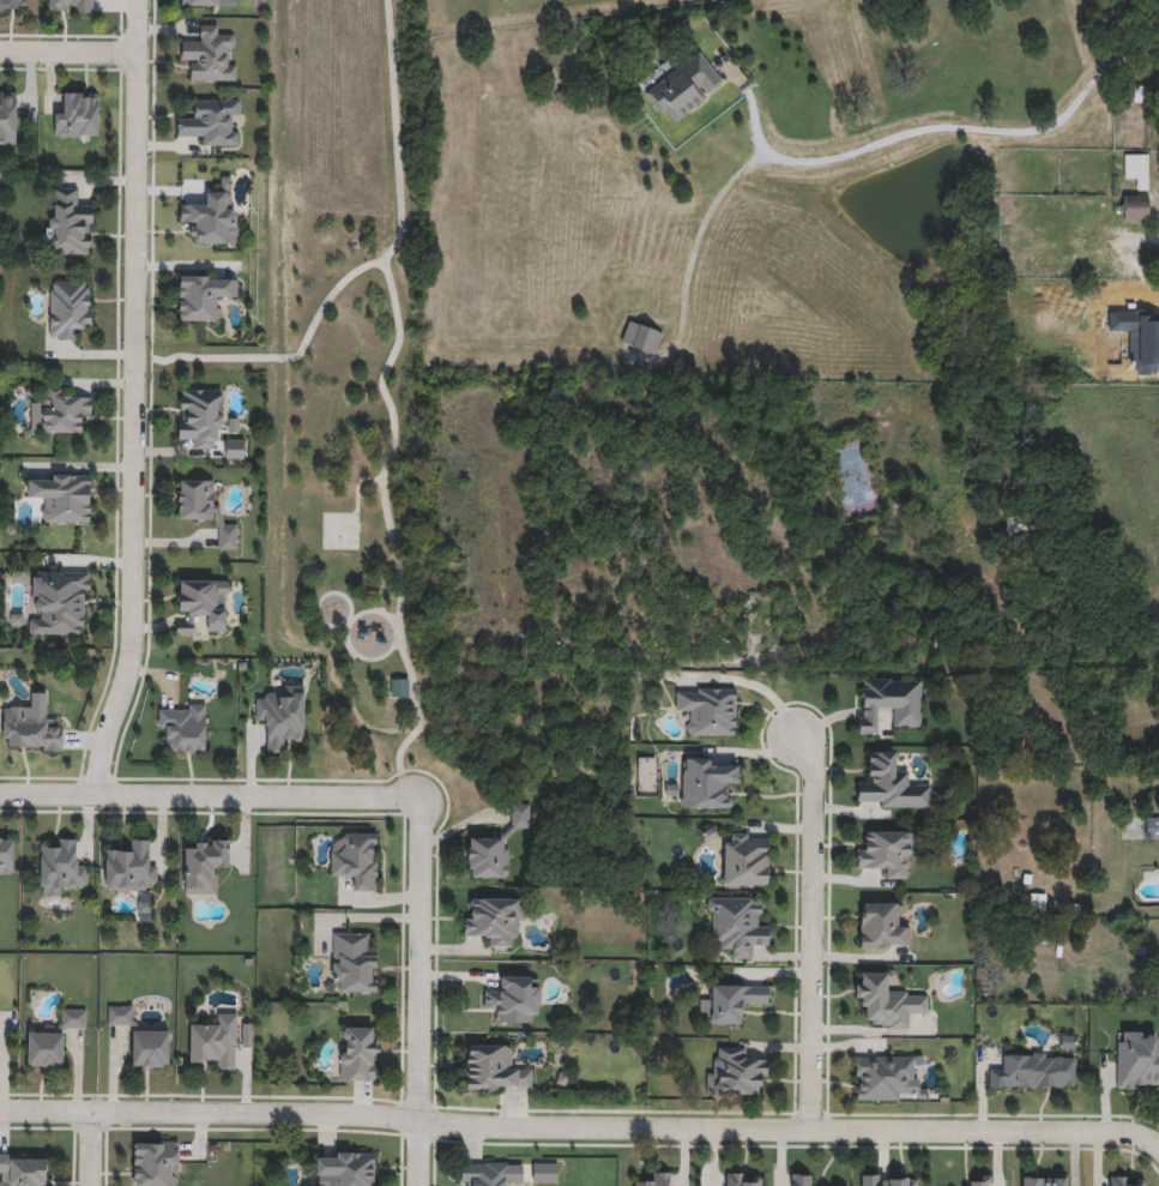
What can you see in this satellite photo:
building: (201, 4)
building: (13, 6)
building: (72, 7)
building: (210, 55)
road: (68, 56)
building: (681, 86)
building: (78, 116)
building: (7, 119)
building: (212, 122)
road: (865, 150)
building: (1139, 170)
building: (1136, 207)
building: (211, 221)
building: (70, 225)
building: (203, 296)
building: (68, 308)
building: (641, 337)
road: (133, 401)
building: (59, 413)
building: (200, 417)
building: (235, 451)
park: (624, 483)
building: (60, 496)
building: (1019, 529)
building: (59, 603)
building: (201, 606)
road: (749, 687)
building: (399, 688)
building: (888, 700)
building: (707, 708)
building: (282, 716)
building: (183, 727)
building: (29, 730)
building: (705, 781)
building: (889, 783)
road: (210, 796)
building: (519, 814)
building: (1152, 825)
building: (888, 850)
building: (487, 855)
building: (6, 856)
building: (745, 857)
building: (356, 861)
building: (61, 866)
building: (204, 867)
building: (129, 869)
building: (494, 917)
building: (736, 923)
building: (881, 925)
road: (813, 929)
building: (352, 964)
road: (421, 992)
building: (514, 997)
building: (732, 1000)
building: (887, 1000)
building: (121, 1017)
building: (52, 1041)
building: (216, 1042)
building: (151, 1050)
building: (357, 1054)
building: (1137, 1059)
building: (493, 1067)
building: (1033, 1070)
building: (735, 1072)
building: (882, 1074)
road: (578, 1126)
road: (1157, 1145)
road: (90, 1149)
building: (155, 1164)
building: (345, 1169)
building: (23, 1170)
building: (483, 1173)
building: (654, 1179)
building: (744, 1179)
building: (802, 1179)
building: (888, 1179)
building: (979, 1180)
building: (1044, 1180)
building: (1127, 1180)

